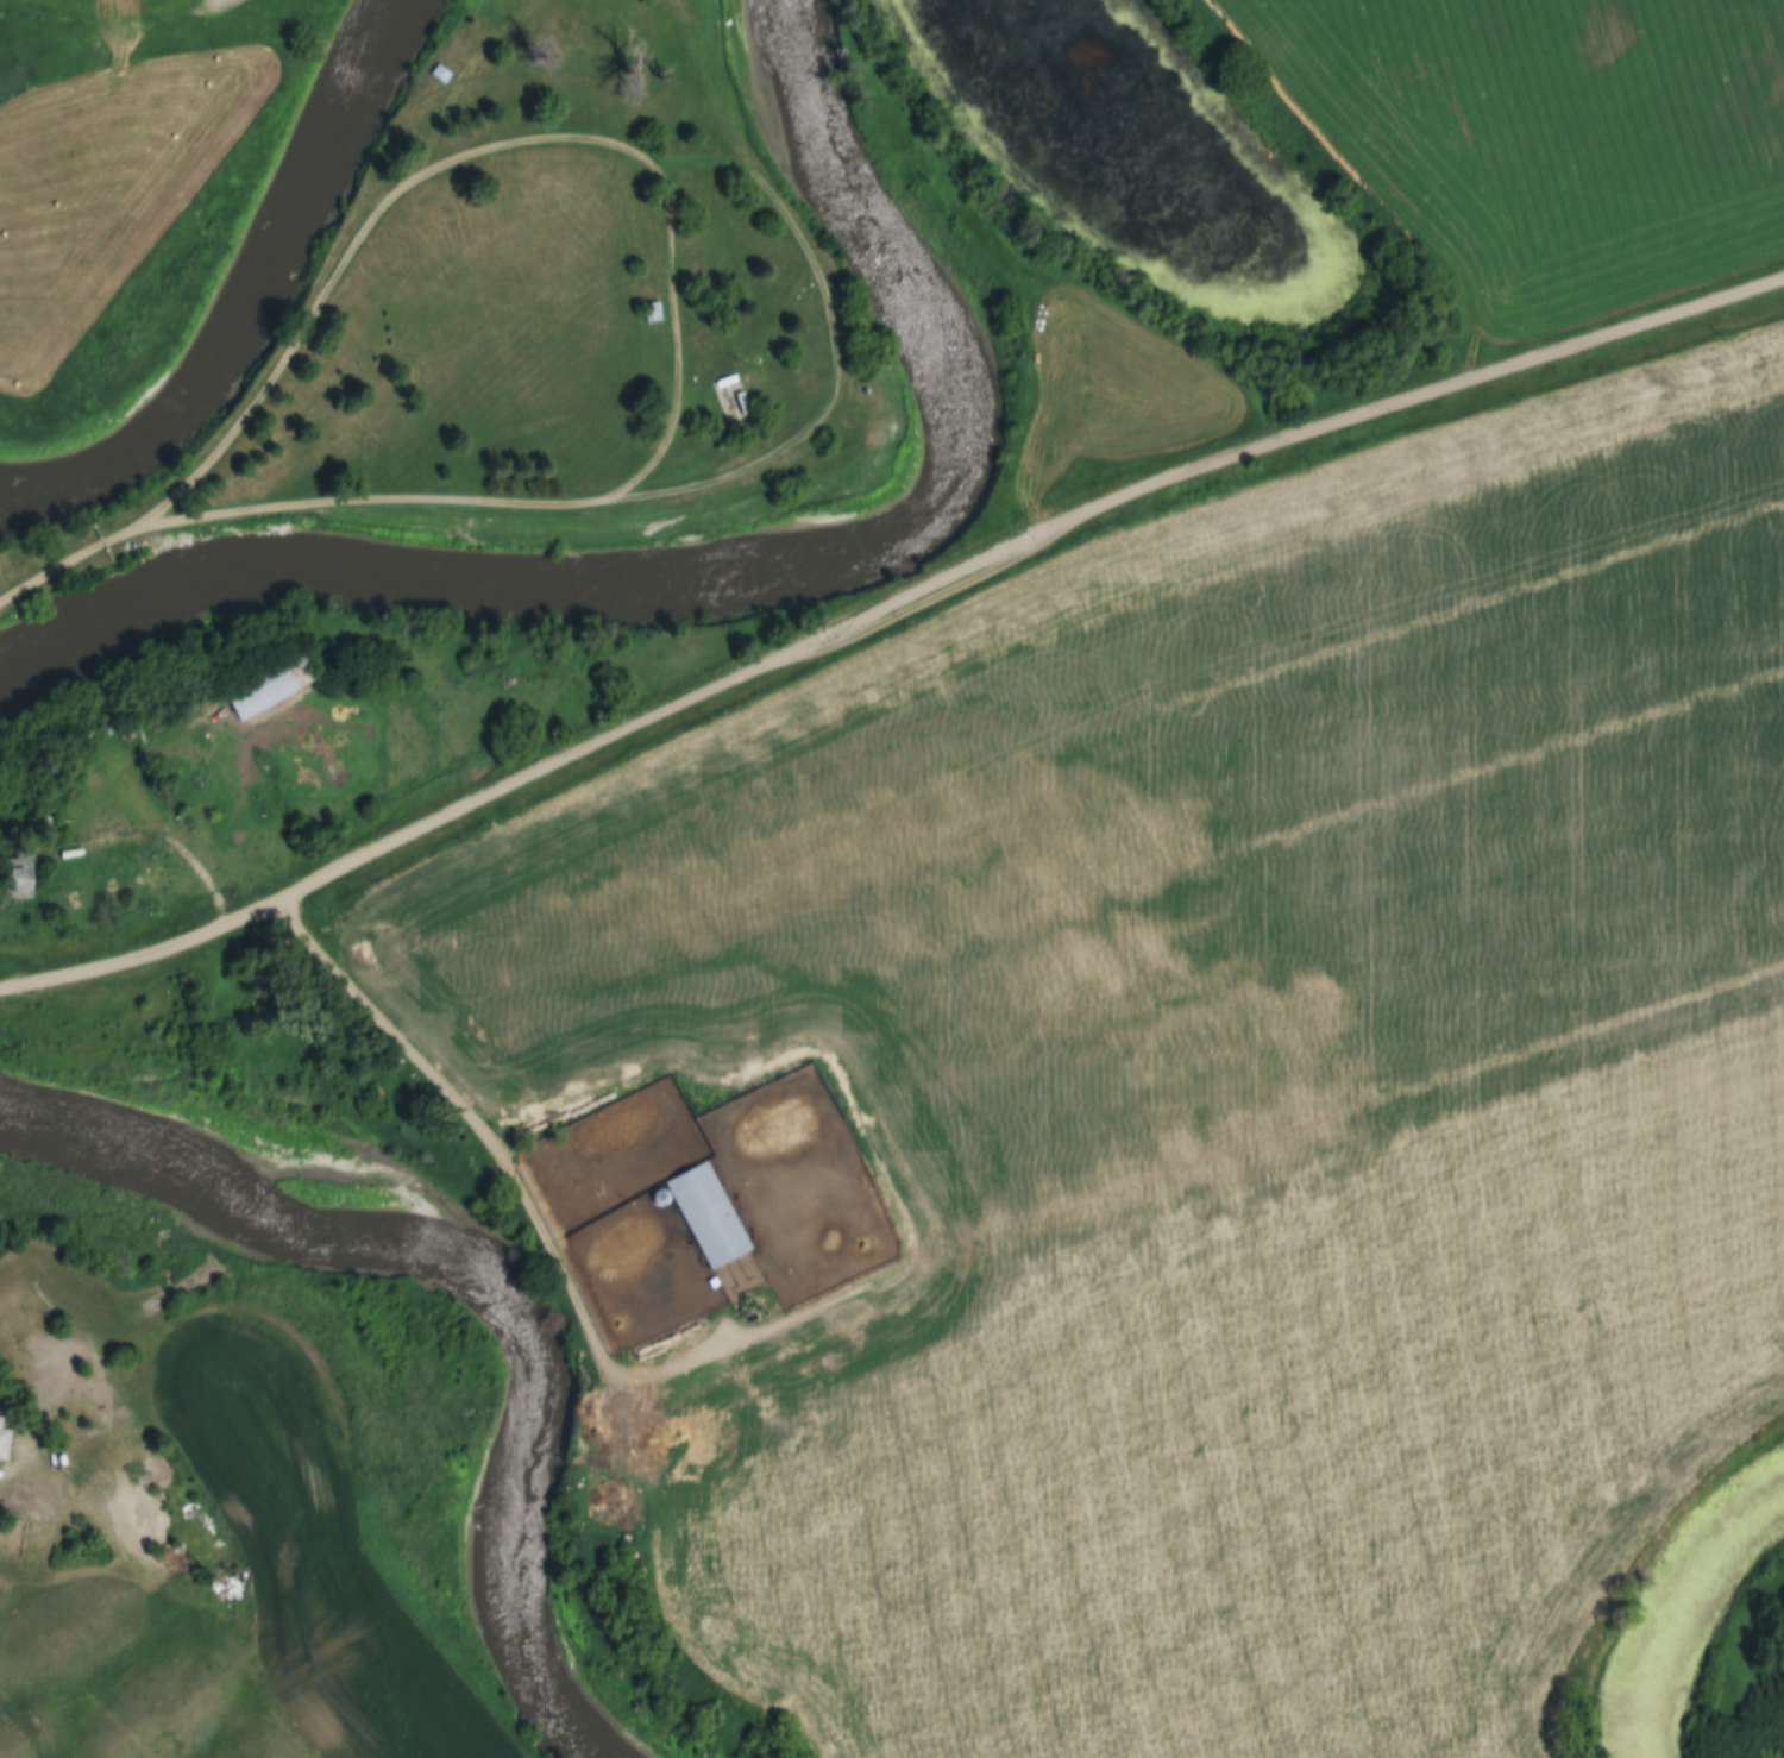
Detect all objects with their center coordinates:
building: (445, 74)
road: (667, 227)
river: (246, 296)
building: (654, 314)
road: (65, 560)
river: (733, 569)
road: (879, 604)
building: (275, 685)
building: (111, 729)
silo: (111, 729)
building: (131, 734)
building: (46, 827)
road: (169, 840)
building: (19, 875)
building: (659, 1199)
silo: (659, 1199)
building: (708, 1217)
river: (492, 1269)
road: (559, 1274)
building: (711, 1283)
building: (5, 1440)
road: (2, 1476)
building: (27, 1502)

